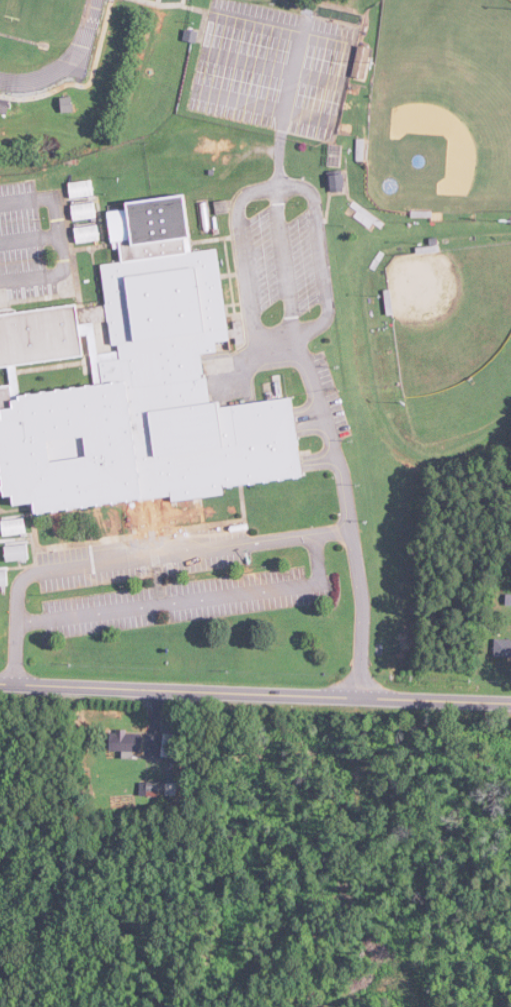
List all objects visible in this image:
park: (40, 14)
road: (281, 29)
track: (78, 44)
building: (363, 62)
road: (273, 68)
road: (290, 92)
building: (4, 106)
road: (263, 106)
park: (442, 109)
building: (340, 182)
building: (81, 189)
building: (84, 212)
building: (87, 234)
road: (29, 238)
road: (59, 240)
road: (243, 241)
road: (286, 264)
road: (323, 269)
park: (454, 337)
road: (281, 343)
road: (245, 358)
building: (136, 383)
road: (350, 516)
building: (14, 527)
road: (333, 532)
building: (17, 553)
road: (115, 562)
building: (4, 578)
road: (192, 600)
building: (503, 648)
road: (255, 695)
building: (127, 741)
building: (169, 746)
building: (162, 789)

